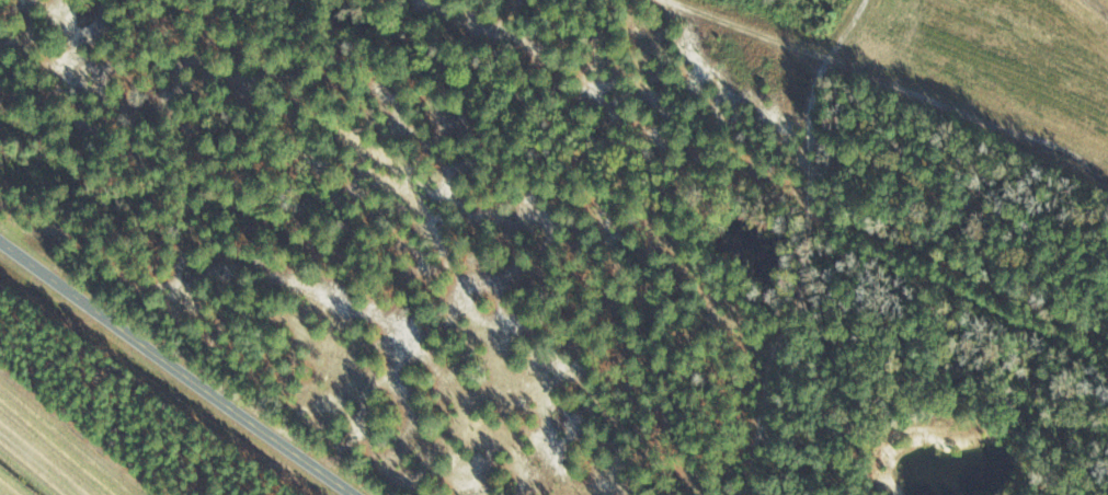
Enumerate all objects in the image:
road: (811, 249)
road: (178, 370)

